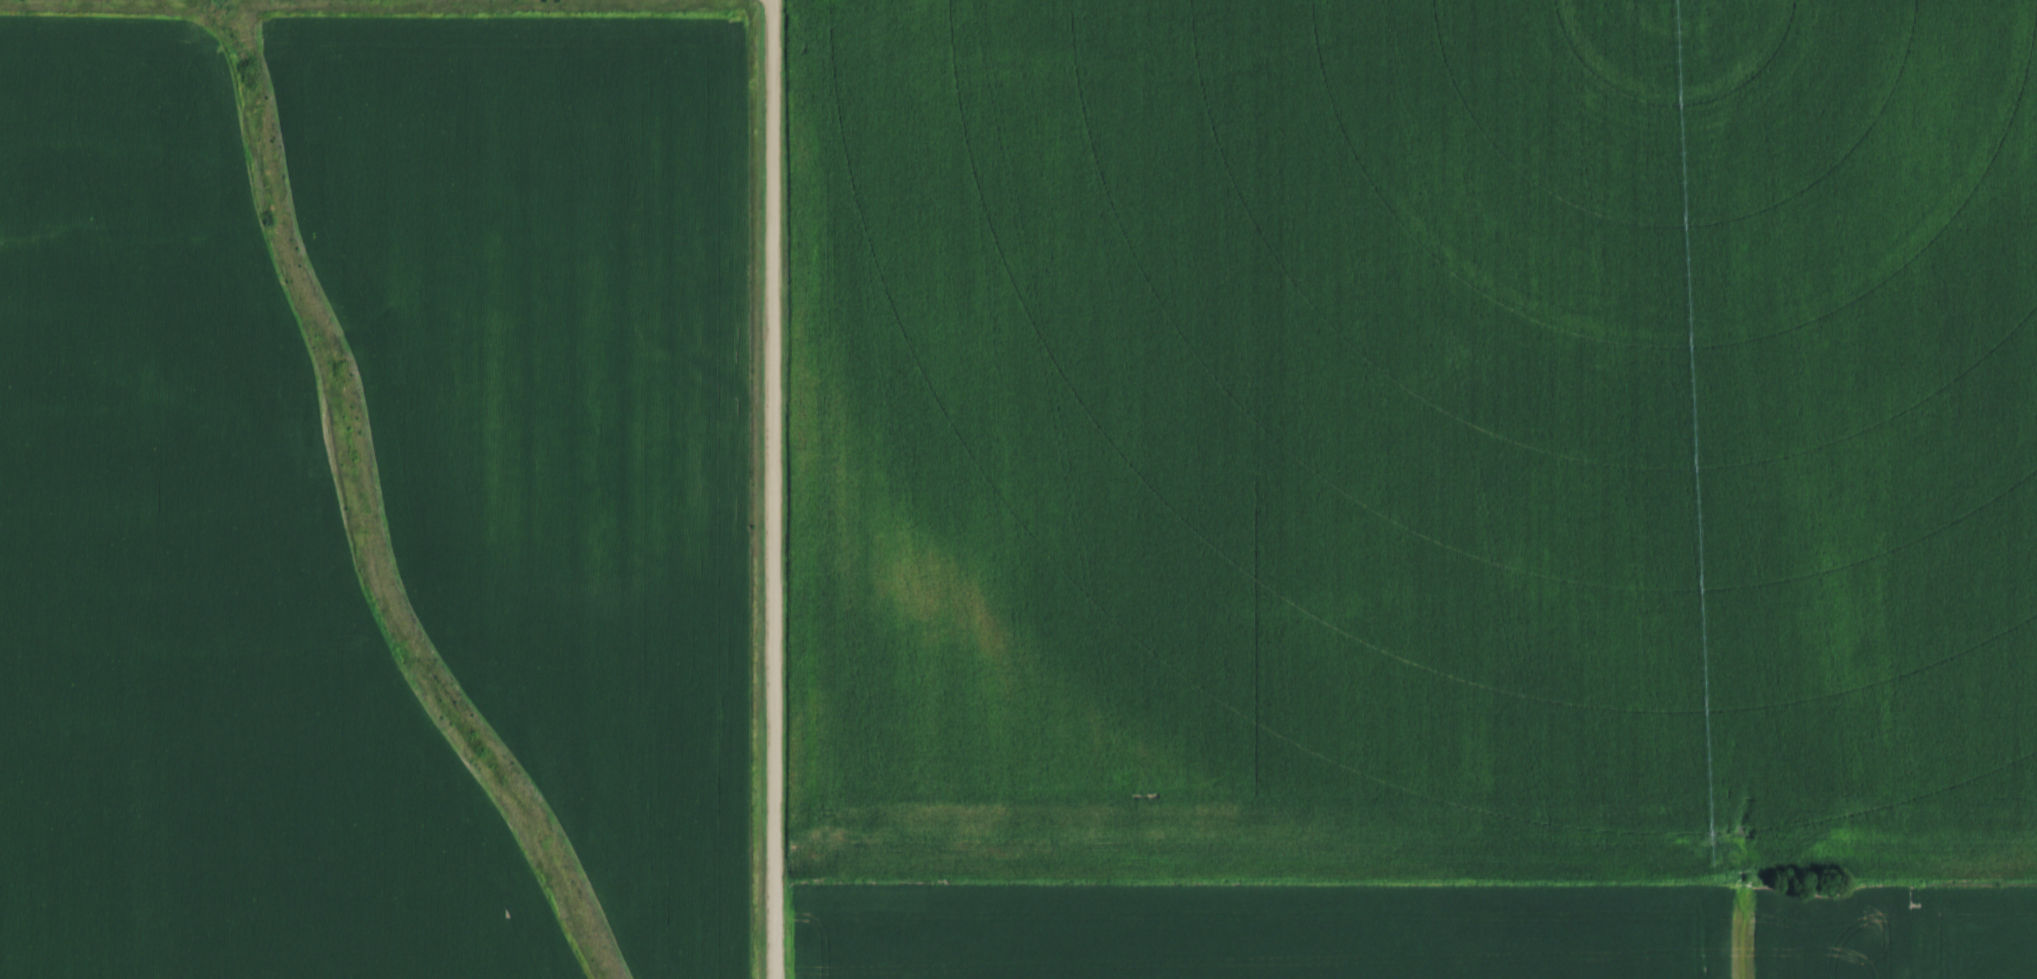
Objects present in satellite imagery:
road: (772, 489)

